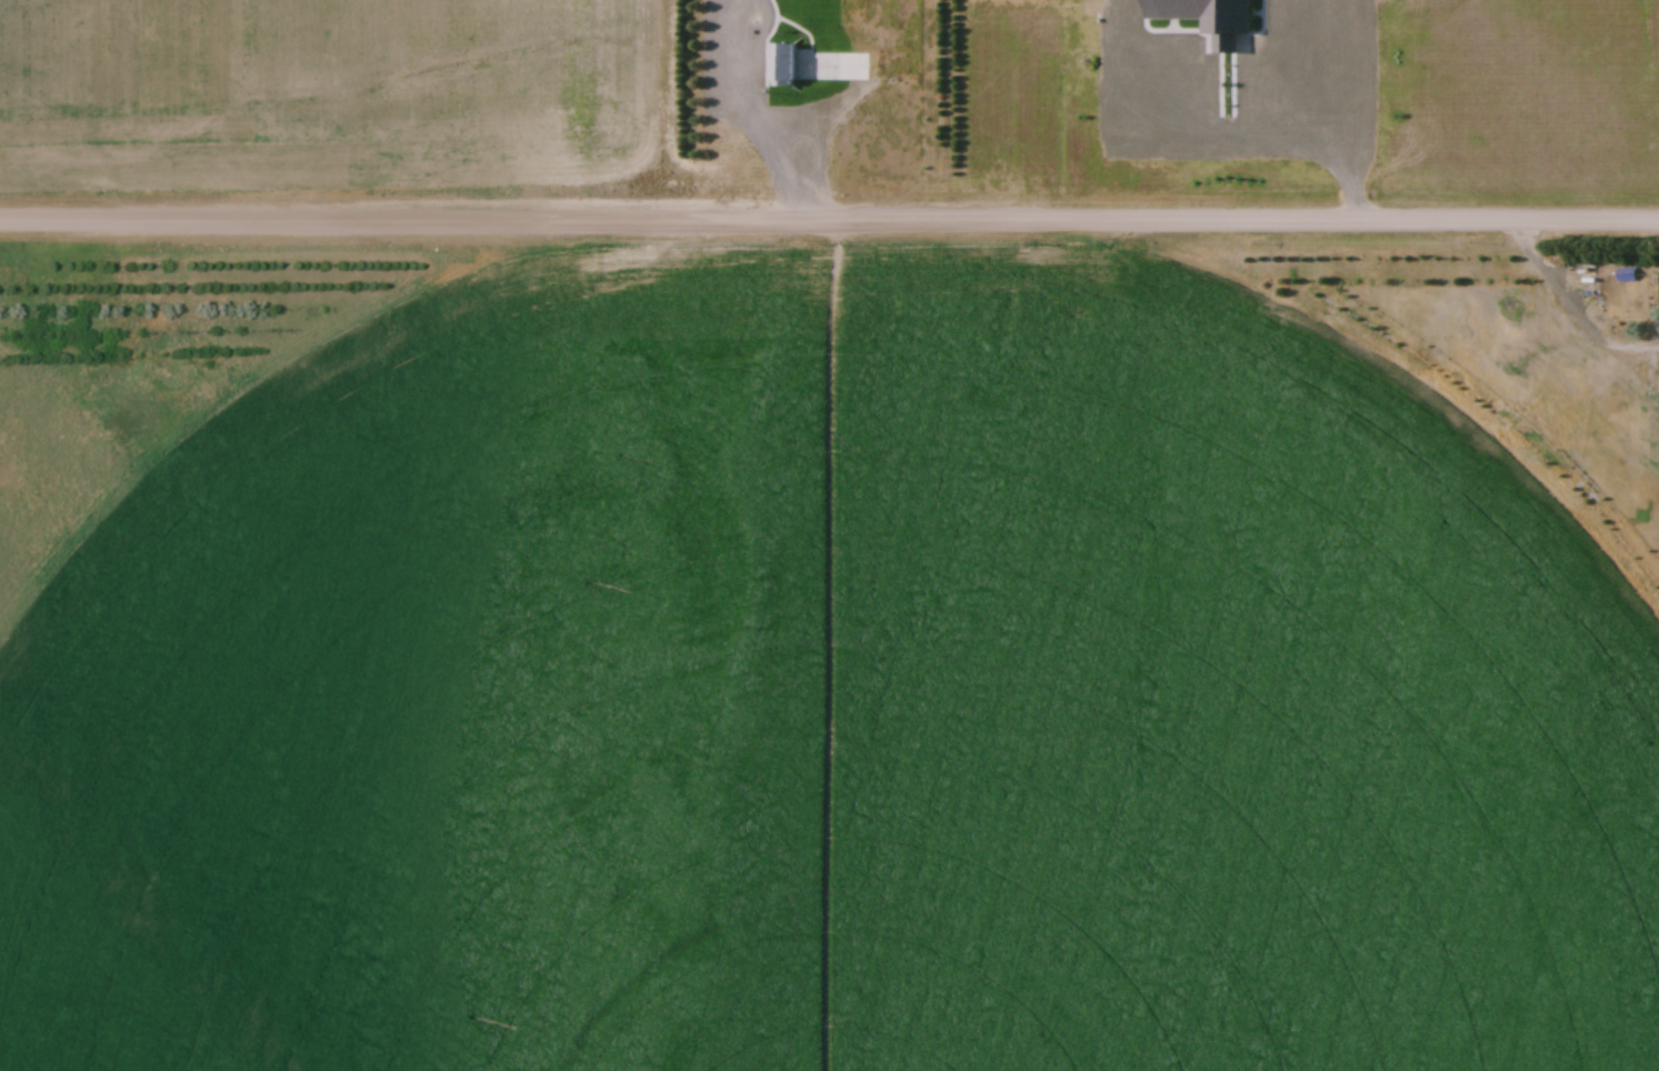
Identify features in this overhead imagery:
building: (787, 66)
road: (829, 216)
building: (1521, 284)

